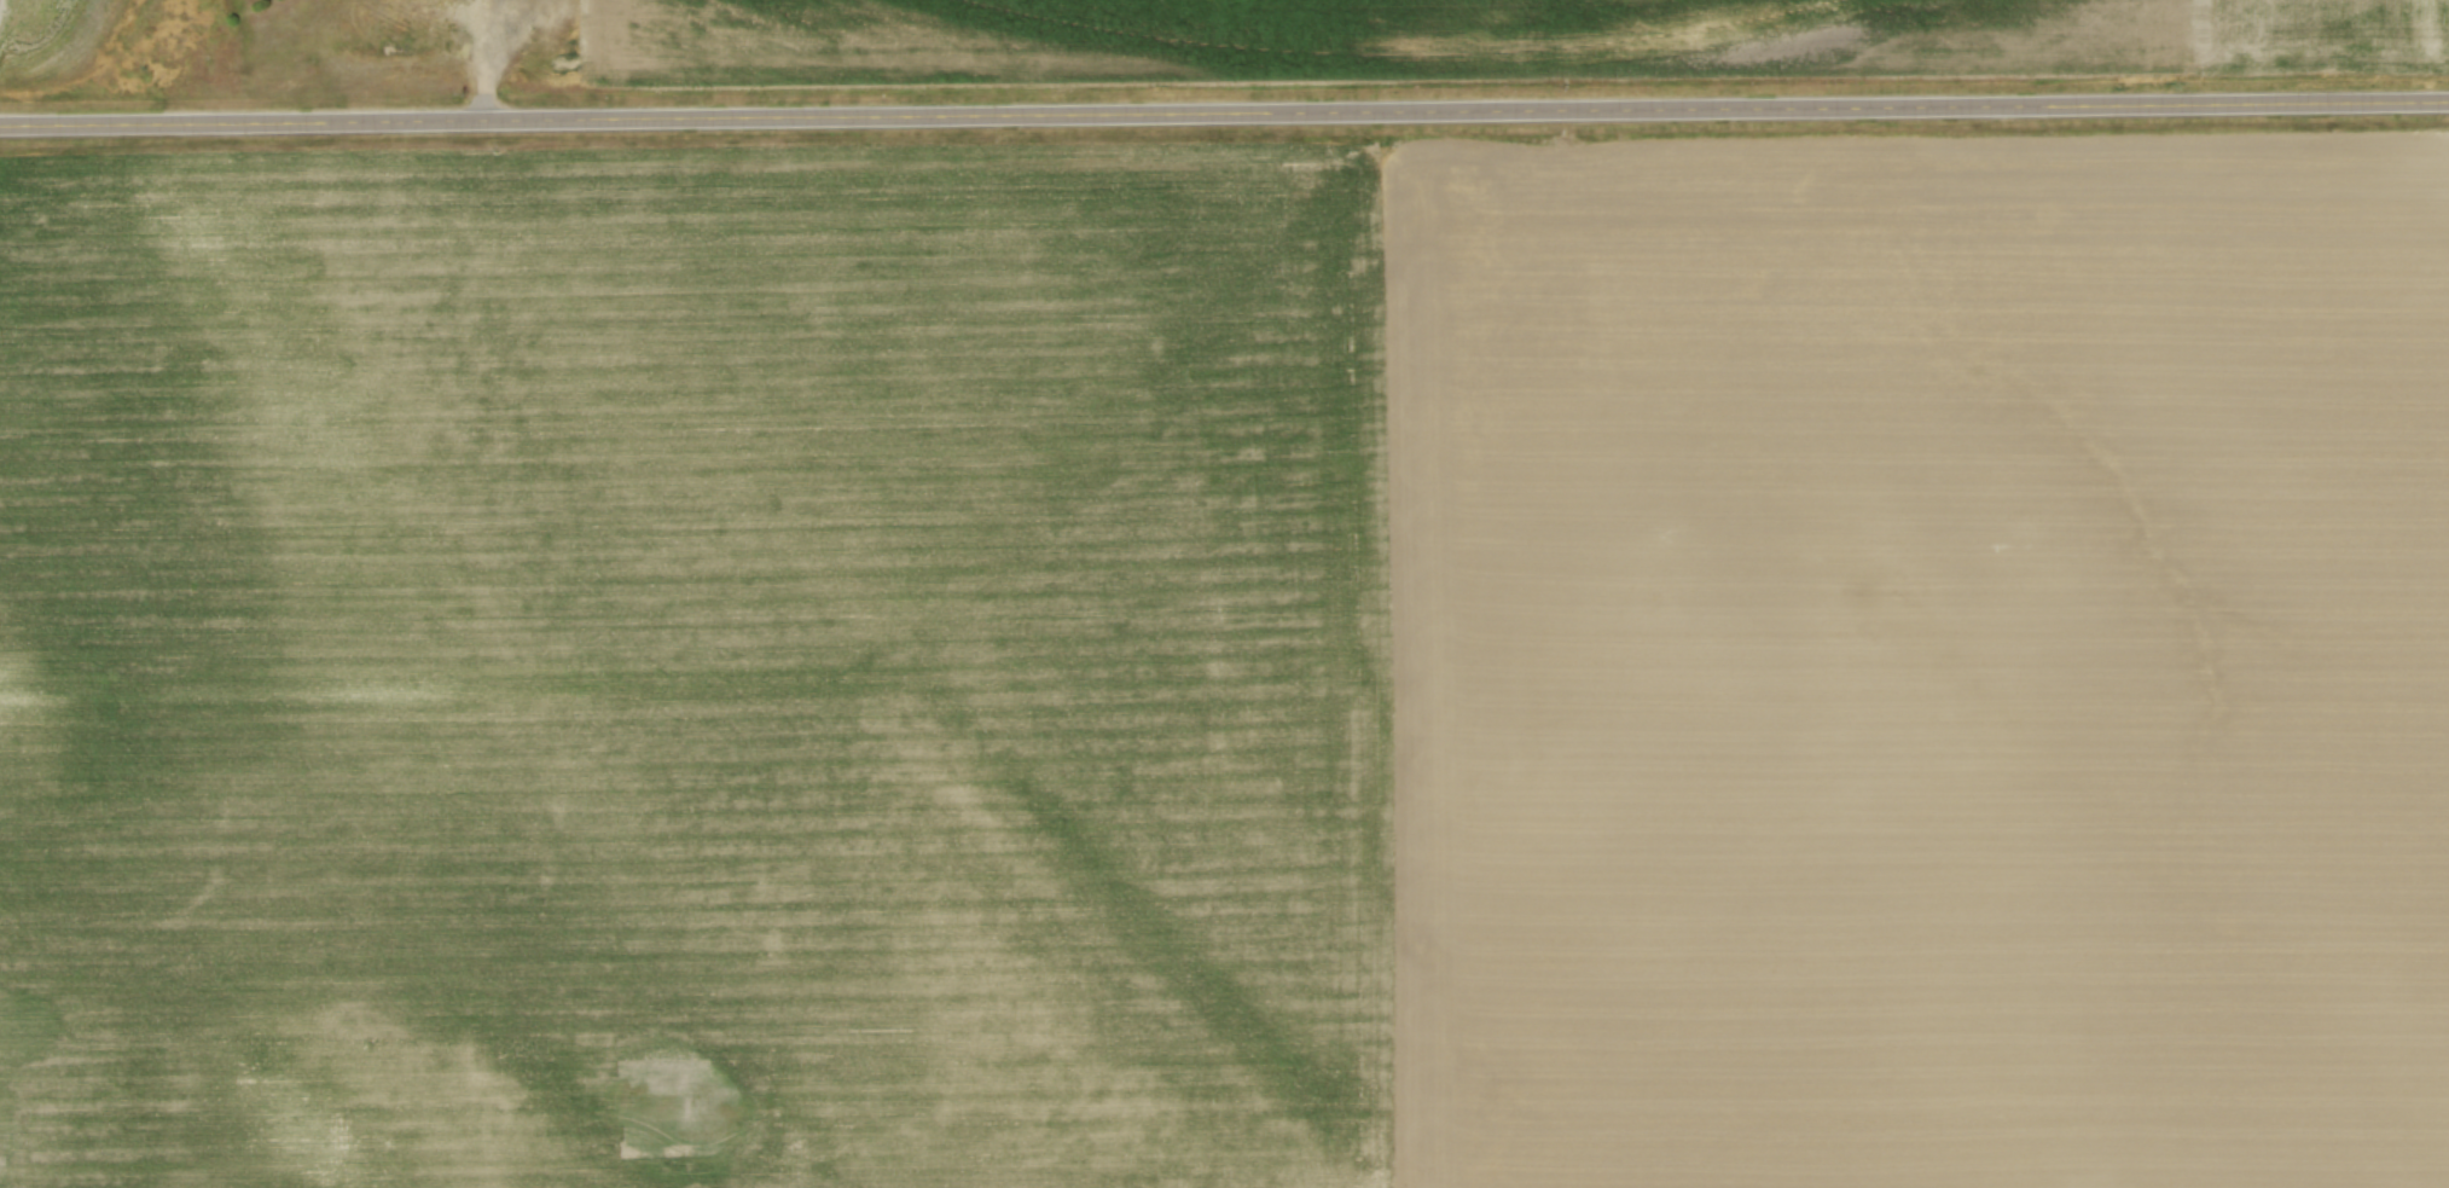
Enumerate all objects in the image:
crop: (1492, 39)
road: (487, 58)
road: (1224, 112)
crop: (1229, 665)

